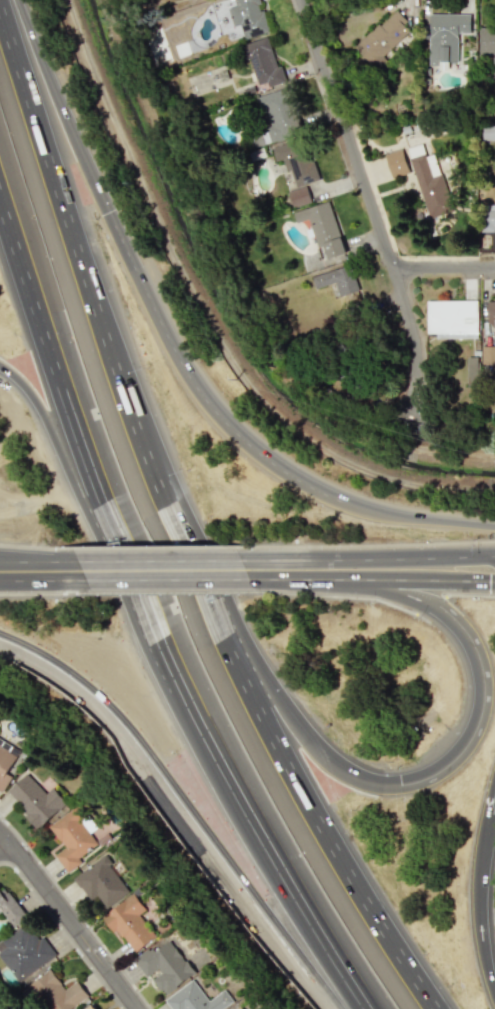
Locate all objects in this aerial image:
building: (248, 17)
building: (445, 37)
building: (382, 39)
building: (487, 42)
building: (263, 61)
road: (60, 106)
building: (279, 112)
building: (145, 113)
building: (295, 160)
building: (396, 162)
building: (430, 184)
building: (299, 196)
road: (373, 207)
building: (488, 217)
building: (322, 228)
road: (453, 258)
road: (444, 264)
building: (337, 280)
building: (491, 313)
building: (452, 318)
road: (48, 351)
building: (488, 354)
building: (472, 371)
road: (201, 378)
road: (419, 513)
road: (180, 522)
road: (200, 536)
road: (493, 555)
road: (461, 557)
road: (493, 557)
road: (16, 565)
road: (266, 566)
road: (354, 566)
road: (167, 567)
road: (56, 568)
road: (16, 569)
road: (461, 582)
road: (359, 583)
road: (216, 591)
road: (129, 608)
road: (483, 712)
road: (220, 761)
building: (5, 763)
building: (35, 799)
road: (493, 806)
road: (182, 810)
building: (70, 838)
road: (5, 846)
building: (100, 882)
road: (482, 903)
building: (10, 907)
road: (77, 911)
road: (70, 920)
building: (129, 923)
building: (24, 951)
building: (165, 965)
building: (56, 992)
building: (196, 998)
building: (91, 1007)
building: (235, 1008)

